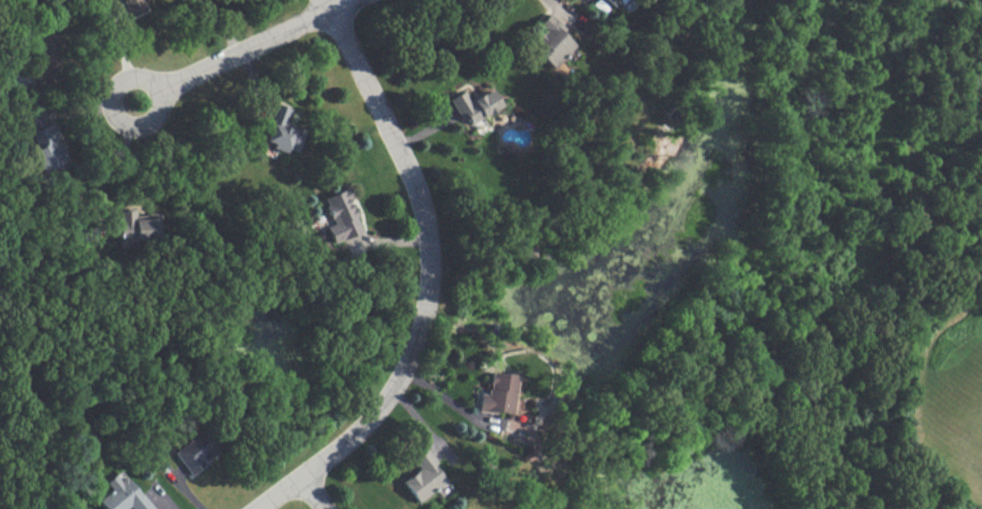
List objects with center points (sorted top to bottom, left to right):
building: (610, 2)
road: (328, 5)
building: (133, 6)
road: (558, 7)
building: (549, 42)
road: (242, 50)
building: (474, 105)
building: (281, 130)
building: (46, 149)
road: (118, 162)
building: (340, 216)
building: (134, 227)
road: (422, 282)
building: (497, 393)
building: (193, 451)
building: (423, 476)
road: (314, 492)
building: (122, 495)

